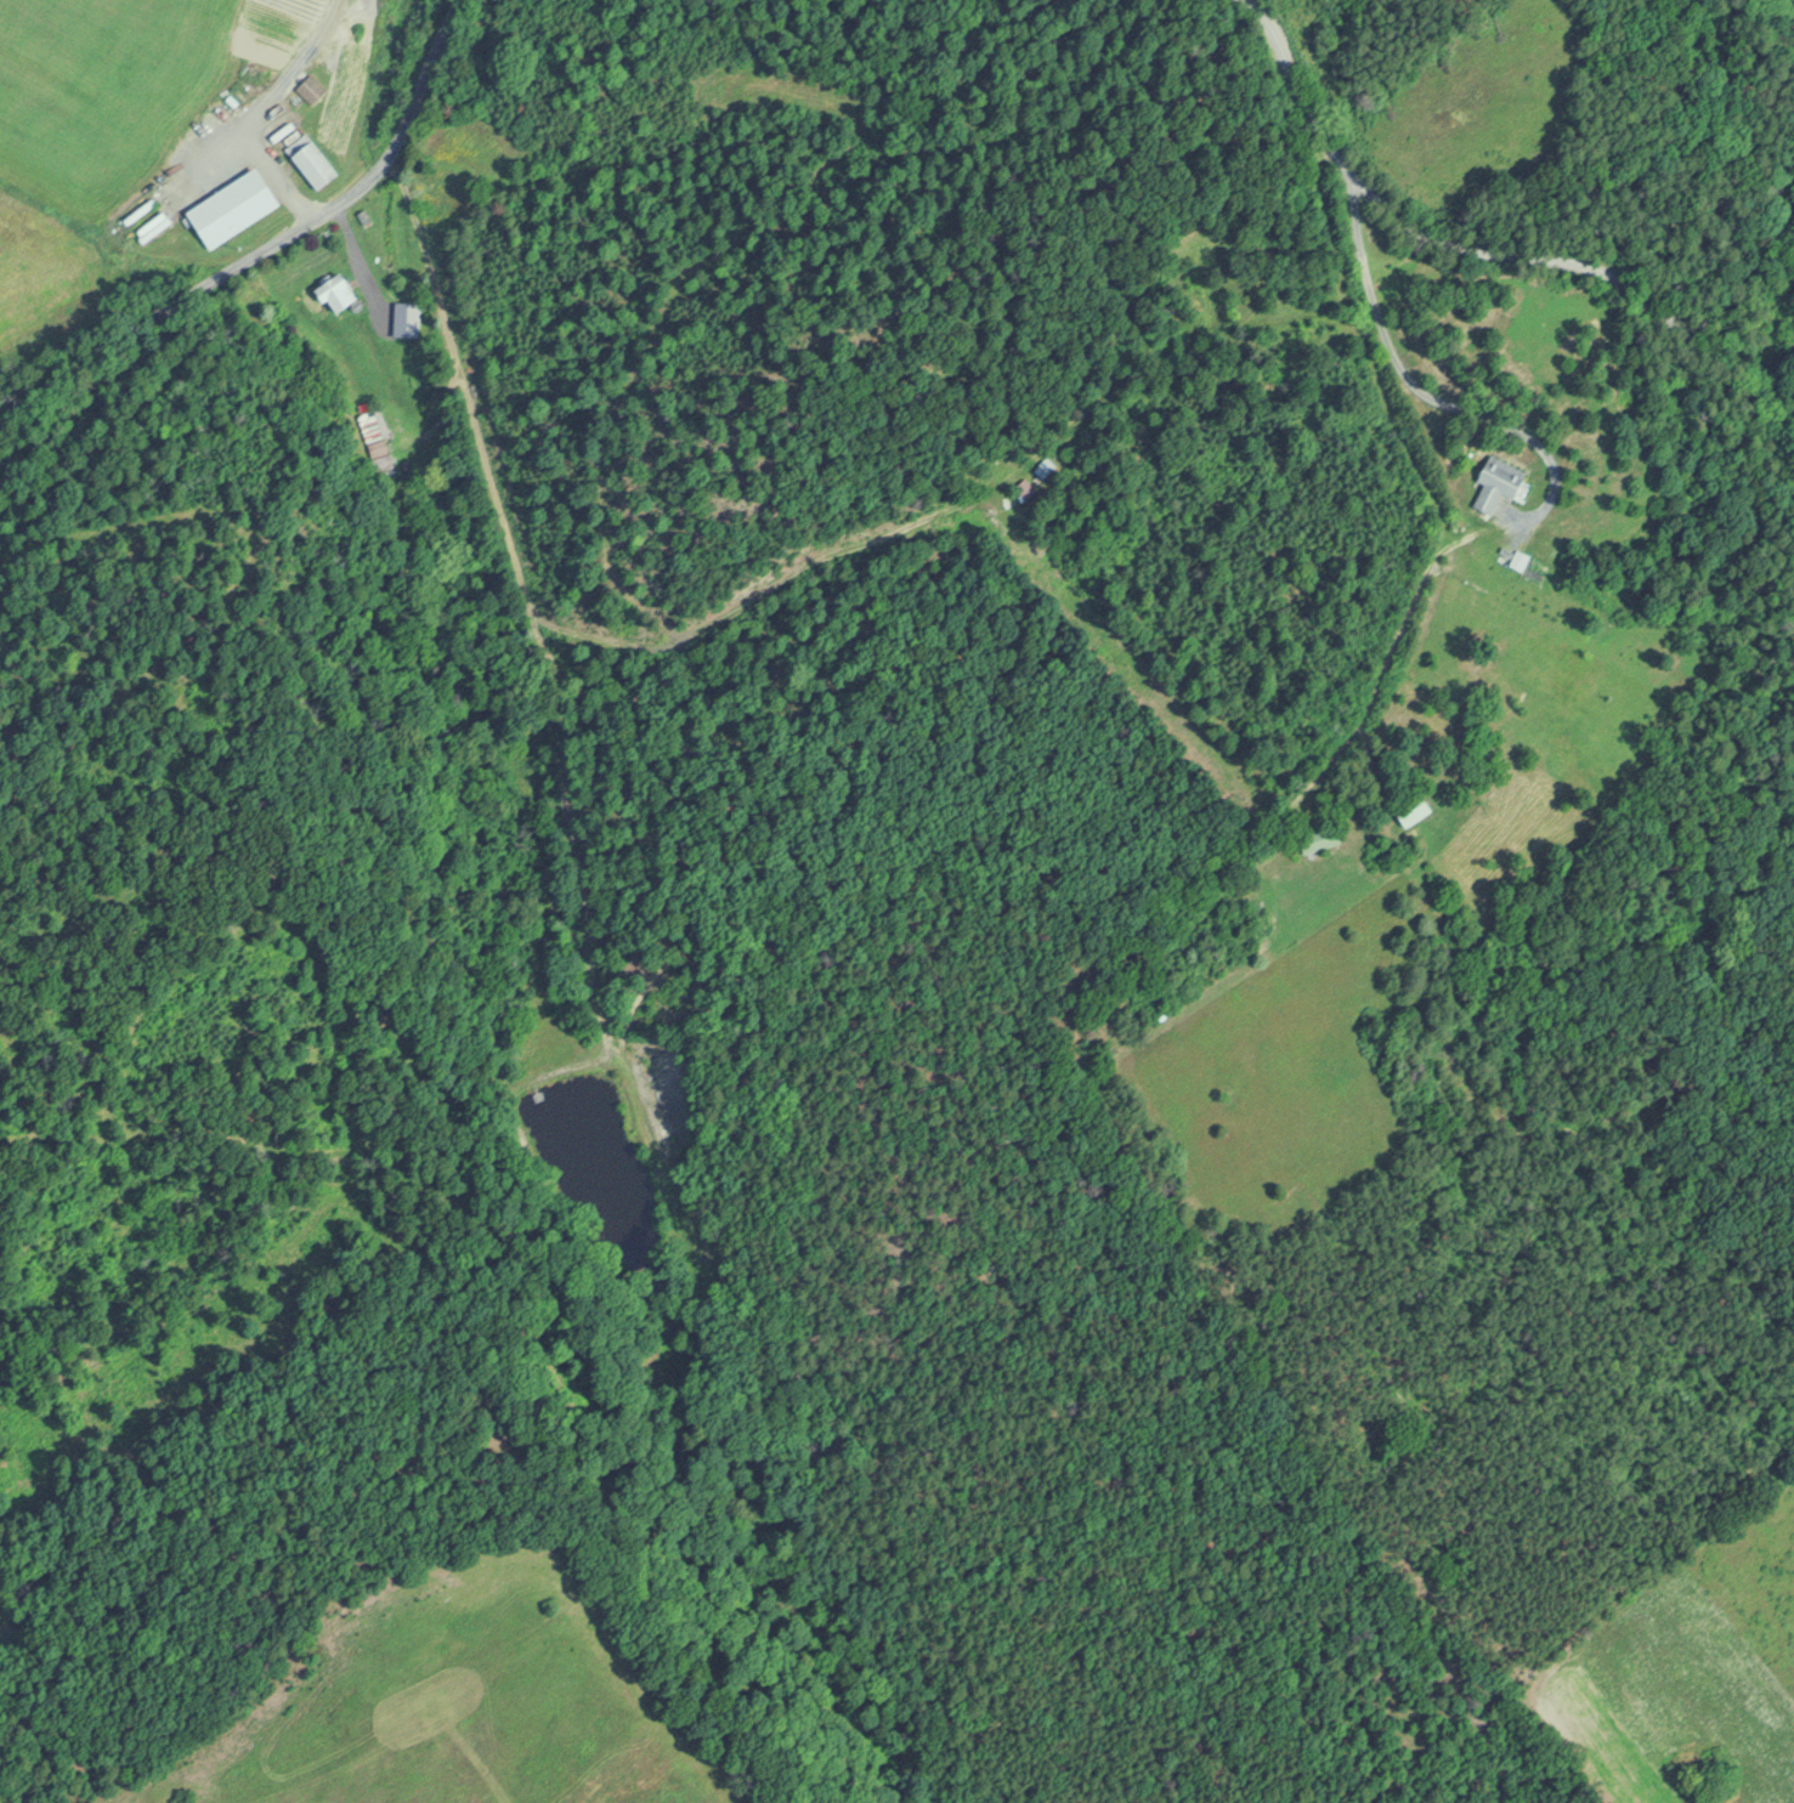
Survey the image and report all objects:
building: (309, 87)
road: (258, 106)
building: (329, 108)
building: (309, 160)
building: (230, 206)
road: (267, 240)
road: (1488, 249)
building: (333, 291)
building: (404, 317)
road: (1424, 393)
building: (1041, 466)
building: (1495, 481)
building: (1023, 487)
building: (1410, 809)
building: (1318, 838)

